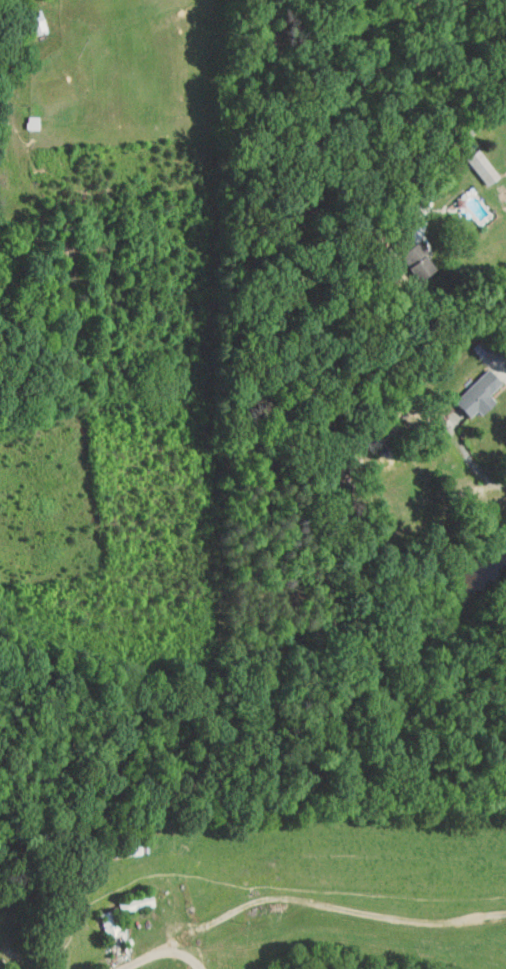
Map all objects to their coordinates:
building: (25, 16)
road: (453, 153)
building: (470, 160)
building: (402, 250)
road: (504, 372)
building: (465, 387)
road: (344, 906)
road: (156, 952)
road: (181, 953)

